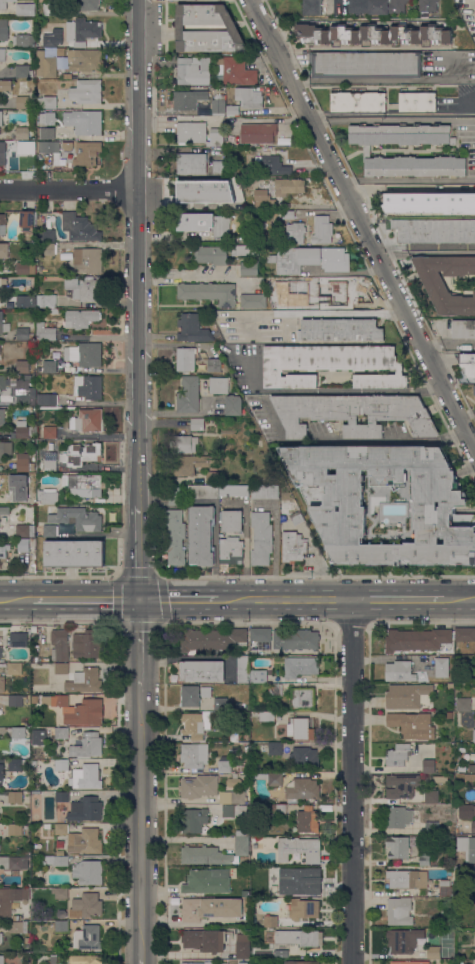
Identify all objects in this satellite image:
building: (40, 1)
building: (3, 4)
building: (87, 4)
building: (428, 5)
building: (377, 6)
building: (312, 7)
building: (25, 8)
building: (49, 9)
building: (3, 29)
building: (207, 29)
building: (82, 31)
building: (374, 34)
building: (25, 40)
building: (49, 40)
building: (2, 54)
building: (84, 60)
building: (365, 64)
building: (46, 65)
building: (193, 70)
building: (235, 70)
building: (23, 71)
road: (363, 80)
building: (5, 85)
building: (86, 91)
building: (188, 99)
building: (245, 100)
building: (358, 101)
building: (417, 101)
building: (22, 102)
building: (47, 102)
building: (218, 104)
building: (1, 118)
building: (47, 118)
road: (400, 119)
building: (84, 121)
road: (319, 121)
building: (22, 133)
building: (46, 133)
building: (198, 133)
building: (258, 133)
building: (67, 145)
building: (48, 146)
building: (26, 147)
building: (366, 151)
building: (2, 153)
building: (87, 153)
building: (191, 163)
building: (272, 165)
building: (218, 167)
road: (415, 180)
road: (348, 182)
building: (288, 186)
road: (410, 187)
road: (69, 191)
building: (192, 193)
building: (263, 199)
building: (429, 203)
building: (285, 214)
building: (28, 221)
building: (204, 223)
road: (362, 224)
building: (2, 226)
building: (79, 227)
building: (322, 229)
building: (434, 230)
building: (296, 232)
building: (46, 235)
building: (46, 249)
building: (243, 249)
building: (4, 250)
road: (441, 252)
building: (211, 254)
road: (394, 256)
building: (87, 259)
building: (309, 259)
building: (22, 268)
building: (249, 268)
road: (188, 277)
building: (434, 283)
building: (306, 286)
building: (84, 288)
building: (341, 289)
building: (209, 292)
building: (49, 300)
road: (141, 300)
building: (253, 300)
building: (25, 301)
building: (279, 302)
road: (323, 313)
building: (81, 318)
building: (3, 324)
building: (340, 329)
building: (463, 329)
building: (196, 330)
building: (45, 332)
building: (22, 333)
road: (449, 343)
building: (85, 354)
building: (185, 359)
building: (467, 362)
building: (214, 365)
building: (331, 365)
building: (22, 366)
building: (50, 366)
building: (22, 385)
building: (219, 385)
building: (88, 387)
building: (474, 389)
building: (5, 390)
road: (334, 390)
building: (188, 395)
building: (25, 399)
building: (46, 399)
building: (233, 405)
road: (466, 412)
building: (354, 413)
building: (1, 416)
building: (87, 420)
building: (198, 423)
building: (24, 429)
building: (49, 432)
road: (355, 439)
building: (184, 443)
building: (50, 446)
road: (474, 446)
building: (5, 450)
building: (81, 454)
building: (50, 461)
building: (24, 462)
building: (190, 464)
building: (212, 477)
building: (84, 484)
building: (18, 487)
building: (234, 490)
building: (203, 492)
building: (265, 492)
building: (175, 495)
building: (47, 496)
building: (25, 498)
building: (338, 507)
building: (51, 508)
building: (4, 513)
building: (296, 517)
building: (77, 518)
building: (232, 520)
building: (25, 530)
building: (49, 530)
building: (201, 535)
building: (175, 536)
building: (261, 538)
building: (25, 544)
building: (292, 547)
building: (3, 550)
building: (231, 550)
building: (74, 554)
road: (275, 555)
road: (16, 601)
road: (87, 601)
traffic signals: (143, 601)
road: (180, 601)
road: (287, 601)
road: (400, 601)
road: (459, 601)
building: (33, 629)
building: (260, 634)
building: (465, 634)
building: (295, 638)
building: (212, 639)
building: (14, 640)
building: (416, 640)
building: (87, 644)
building: (59, 645)
road: (142, 646)
building: (253, 651)
building: (61, 667)
building: (442, 667)
building: (16, 668)
building: (299, 668)
building: (243, 669)
building: (201, 670)
building: (399, 671)
building: (258, 676)
building: (457, 679)
building: (84, 681)
building: (2, 684)
building: (450, 686)
building: (275, 690)
building: (205, 692)
building: (189, 696)
building: (407, 696)
building: (303, 698)
building: (16, 700)
building: (45, 700)
building: (60, 700)
building: (220, 703)
building: (463, 704)
building: (83, 712)
building: (449, 715)
building: (457, 715)
building: (266, 717)
building: (195, 724)
building: (412, 724)
building: (300, 729)
building: (18, 732)
building: (62, 732)
building: (473, 735)
building: (41, 736)
building: (4, 744)
building: (87, 745)
building: (275, 748)
building: (193, 755)
building: (398, 755)
building: (304, 757)
building: (16, 764)
building: (61, 764)
building: (224, 764)
building: (428, 766)
building: (240, 767)
building: (1, 773)
building: (86, 777)
building: (269, 778)
building: (470, 779)
building: (233, 782)
road: (354, 782)
building: (402, 785)
building: (199, 786)
building: (302, 789)
building: (61, 796)
building: (15, 797)
building: (232, 797)
building: (432, 797)
building: (278, 808)
building: (85, 809)
building: (234, 810)
building: (466, 811)
building: (398, 816)
building: (193, 820)
building: (307, 820)
road: (141, 822)
building: (47, 826)
building: (473, 827)
building: (61, 828)
building: (432, 828)
building: (15, 829)
building: (84, 841)
building: (241, 842)
building: (398, 846)
building: (466, 847)
building: (299, 849)
building: (205, 855)
building: (57, 860)
building: (424, 860)
building: (13, 862)
building: (89, 872)
building: (473, 874)
building: (307, 877)
building: (407, 879)
building: (207, 881)
building: (445, 887)
building: (282, 889)
building: (61, 893)
building: (245, 893)
building: (11, 898)
building: (474, 902)
building: (86, 905)
building: (246, 905)
building: (210, 908)
building: (303, 909)
building: (399, 911)
building: (17, 917)
building: (270, 921)
building: (446, 923)
building: (61, 926)
building: (18, 927)
building: (90, 937)
building: (298, 937)
building: (1, 938)
building: (204, 940)
building: (403, 940)
building: (27, 943)
building: (243, 945)
building: (433, 952)
building: (281, 953)
building: (53, 958)
road: (141, 958)
building: (2, 959)
building: (85, 959)
building: (242, 962)
building: (302, 962)
building: (409, 962)
building: (198, 963)
building: (224, 963)

